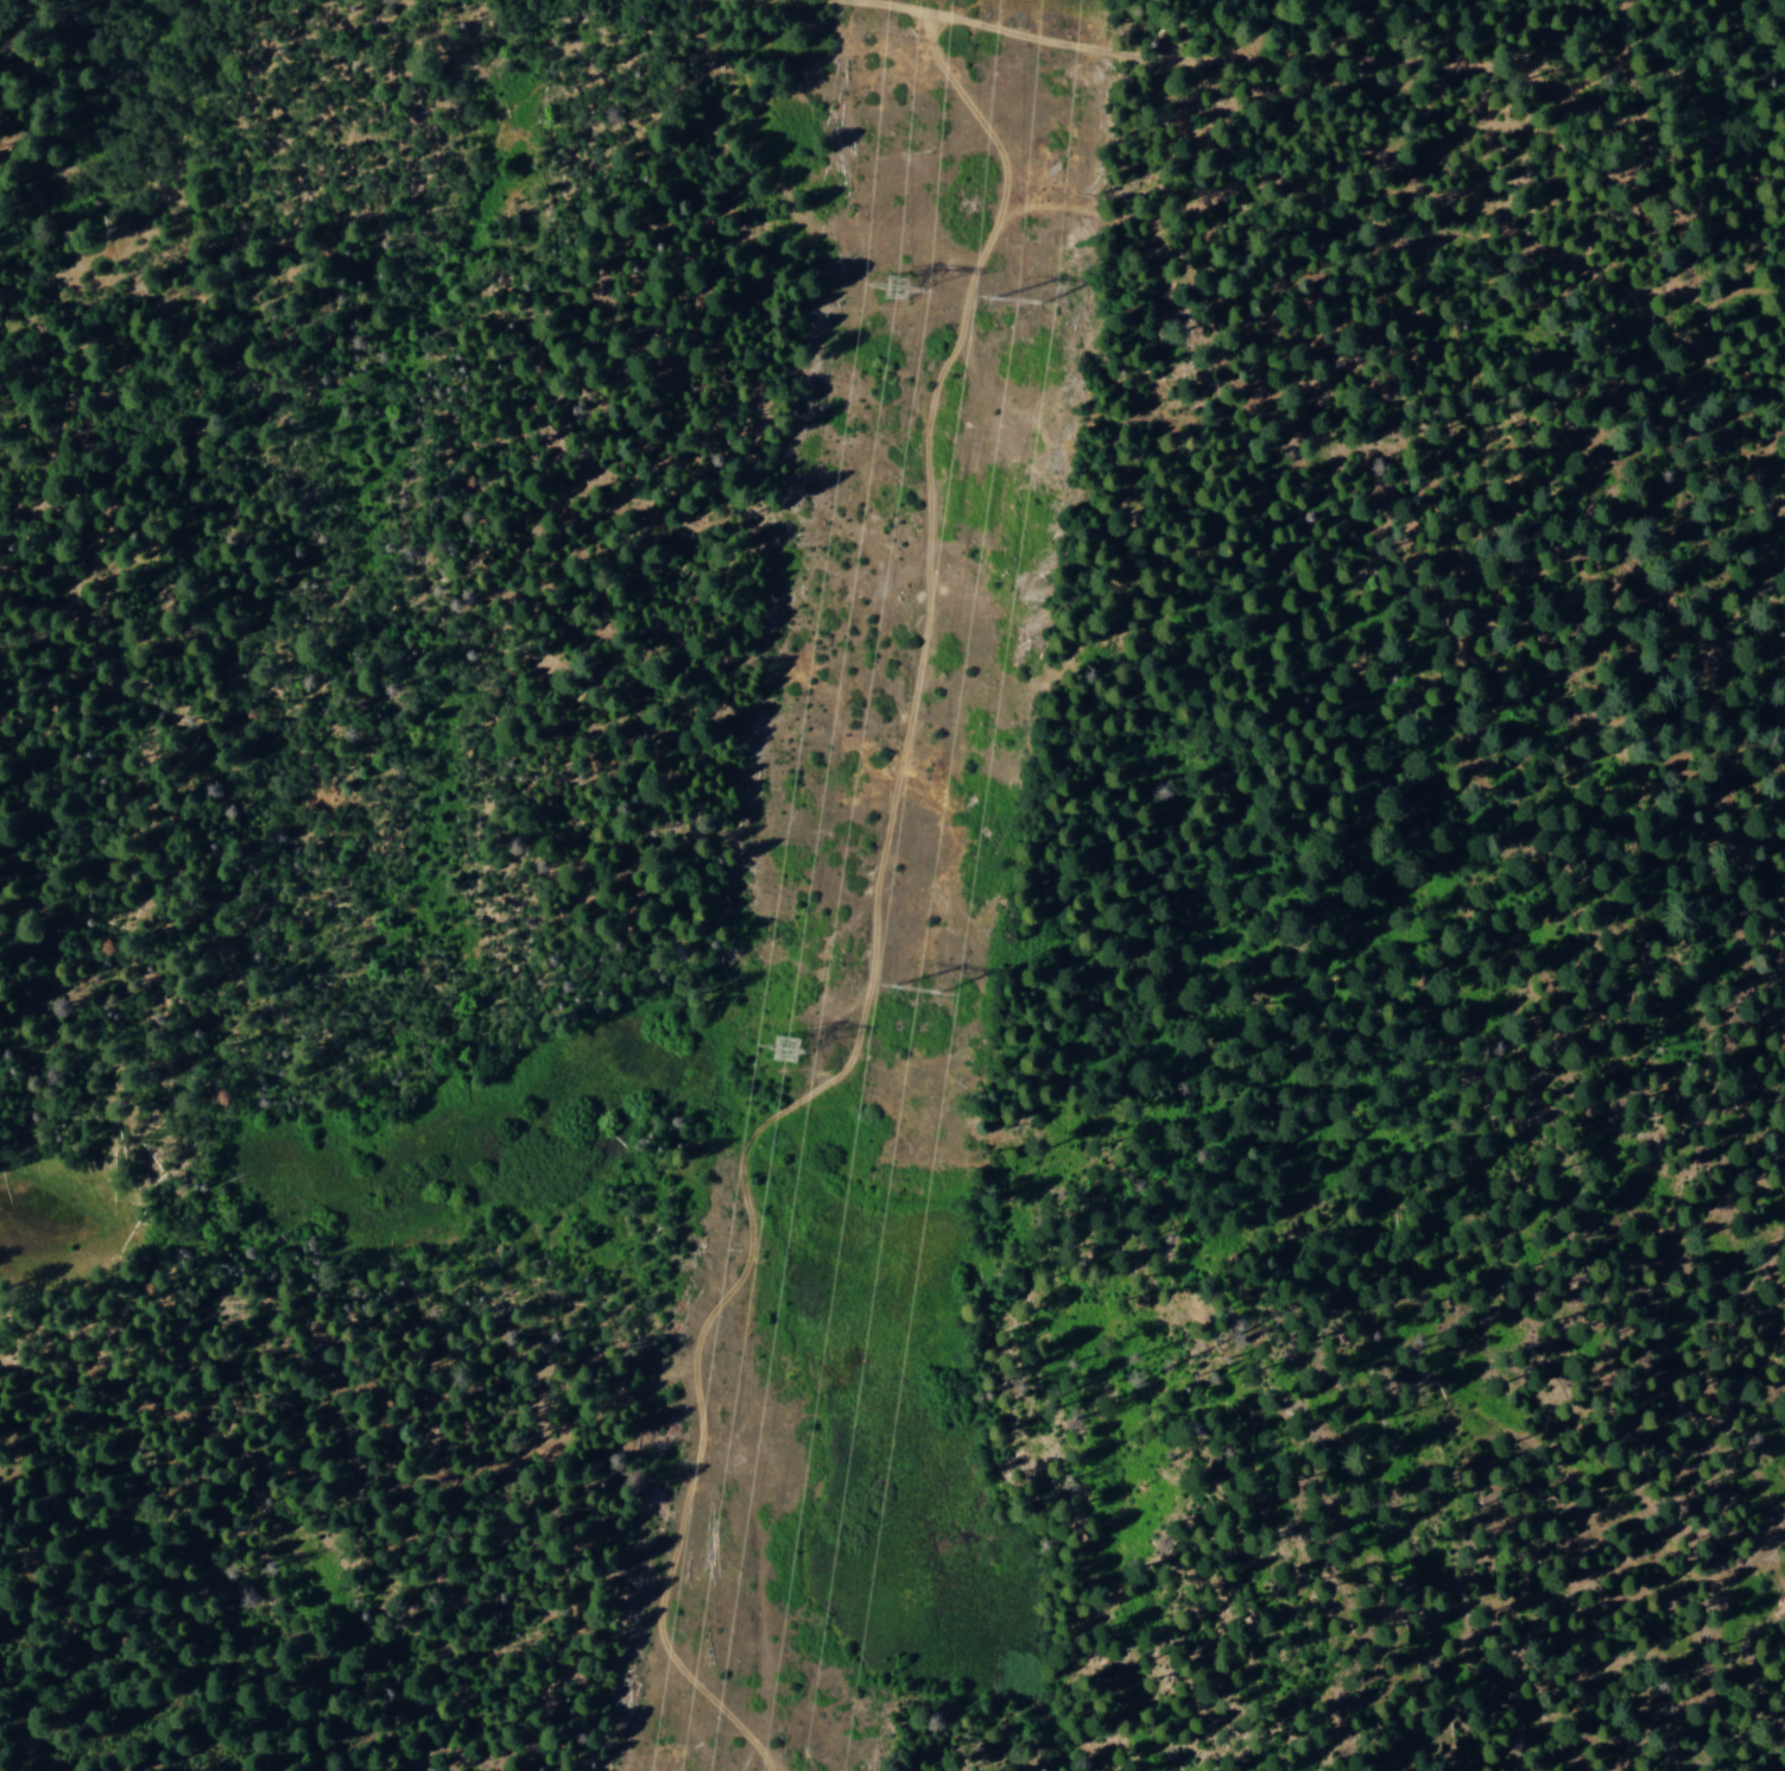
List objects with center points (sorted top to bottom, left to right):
road: (904, 45)
power tower: (901, 272)
power tower: (1018, 296)
power tower: (909, 991)
power tower: (776, 1033)

